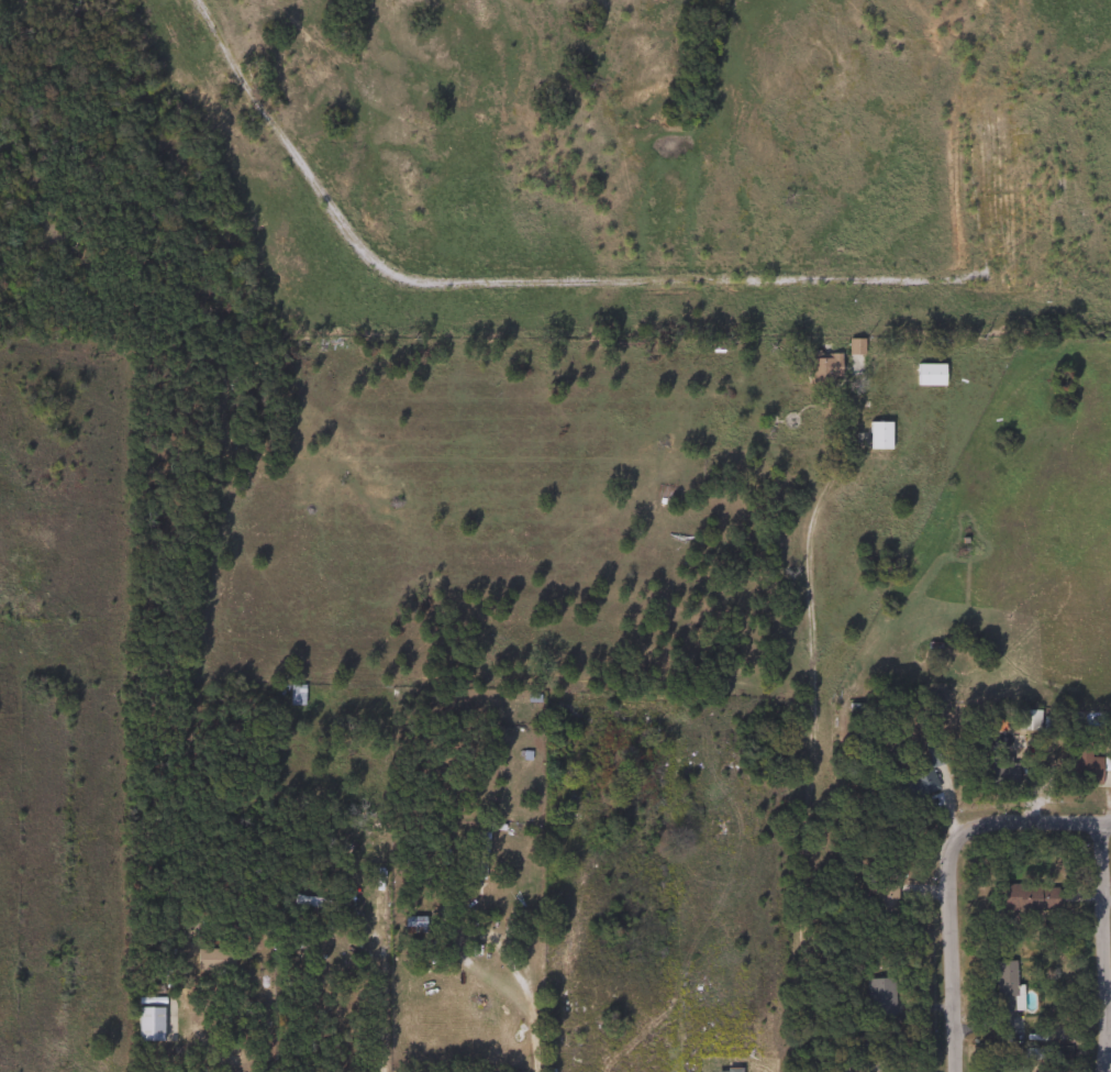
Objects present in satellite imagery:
building: (826, 368)
building: (927, 375)
building: (877, 435)
building: (556, 705)
building: (1026, 720)
building: (1085, 767)
building: (925, 769)
building: (351, 848)
road: (949, 862)
building: (474, 889)
building: (1026, 898)
road: (1106, 940)
building: (1002, 986)
building: (879, 995)
road: (531, 1001)
road: (380, 1003)
road: (207, 1050)
building: (1011, 1069)
building: (726, 1071)

